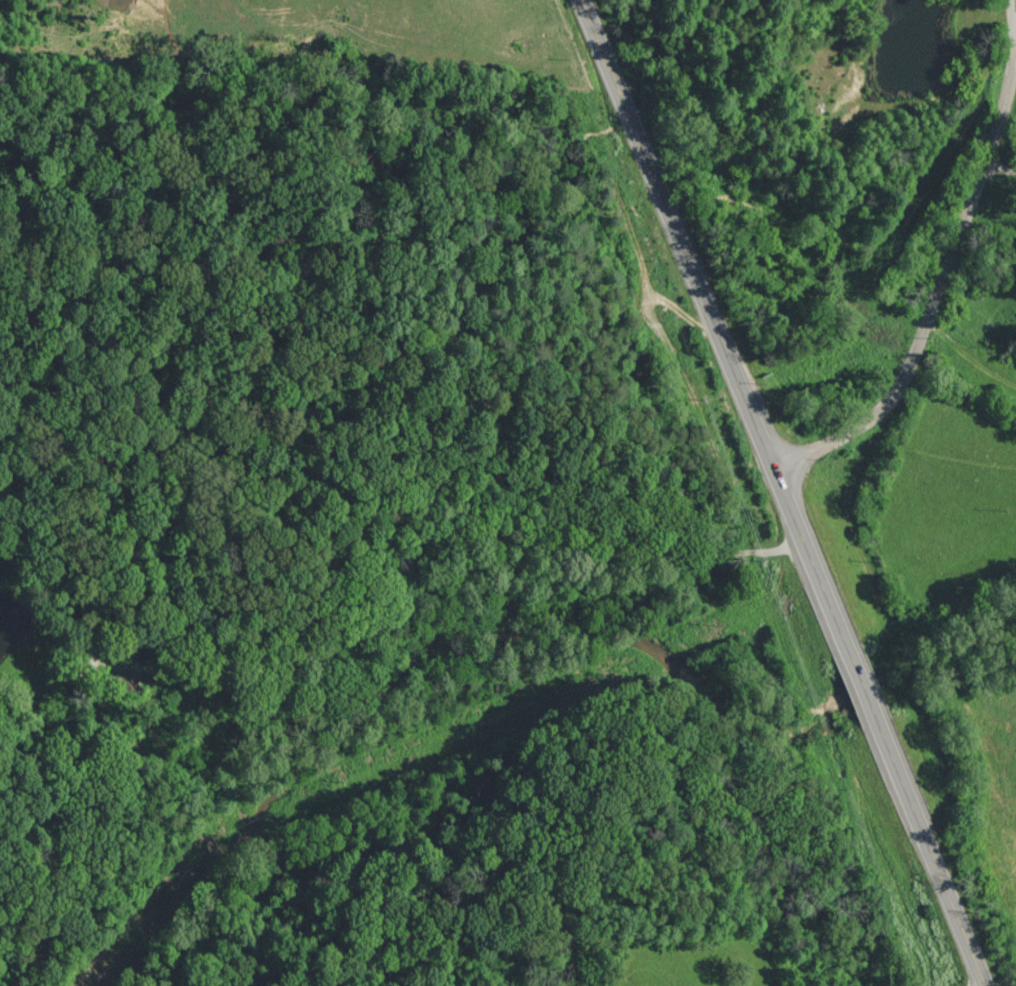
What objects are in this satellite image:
road: (942, 291)
road: (787, 492)

